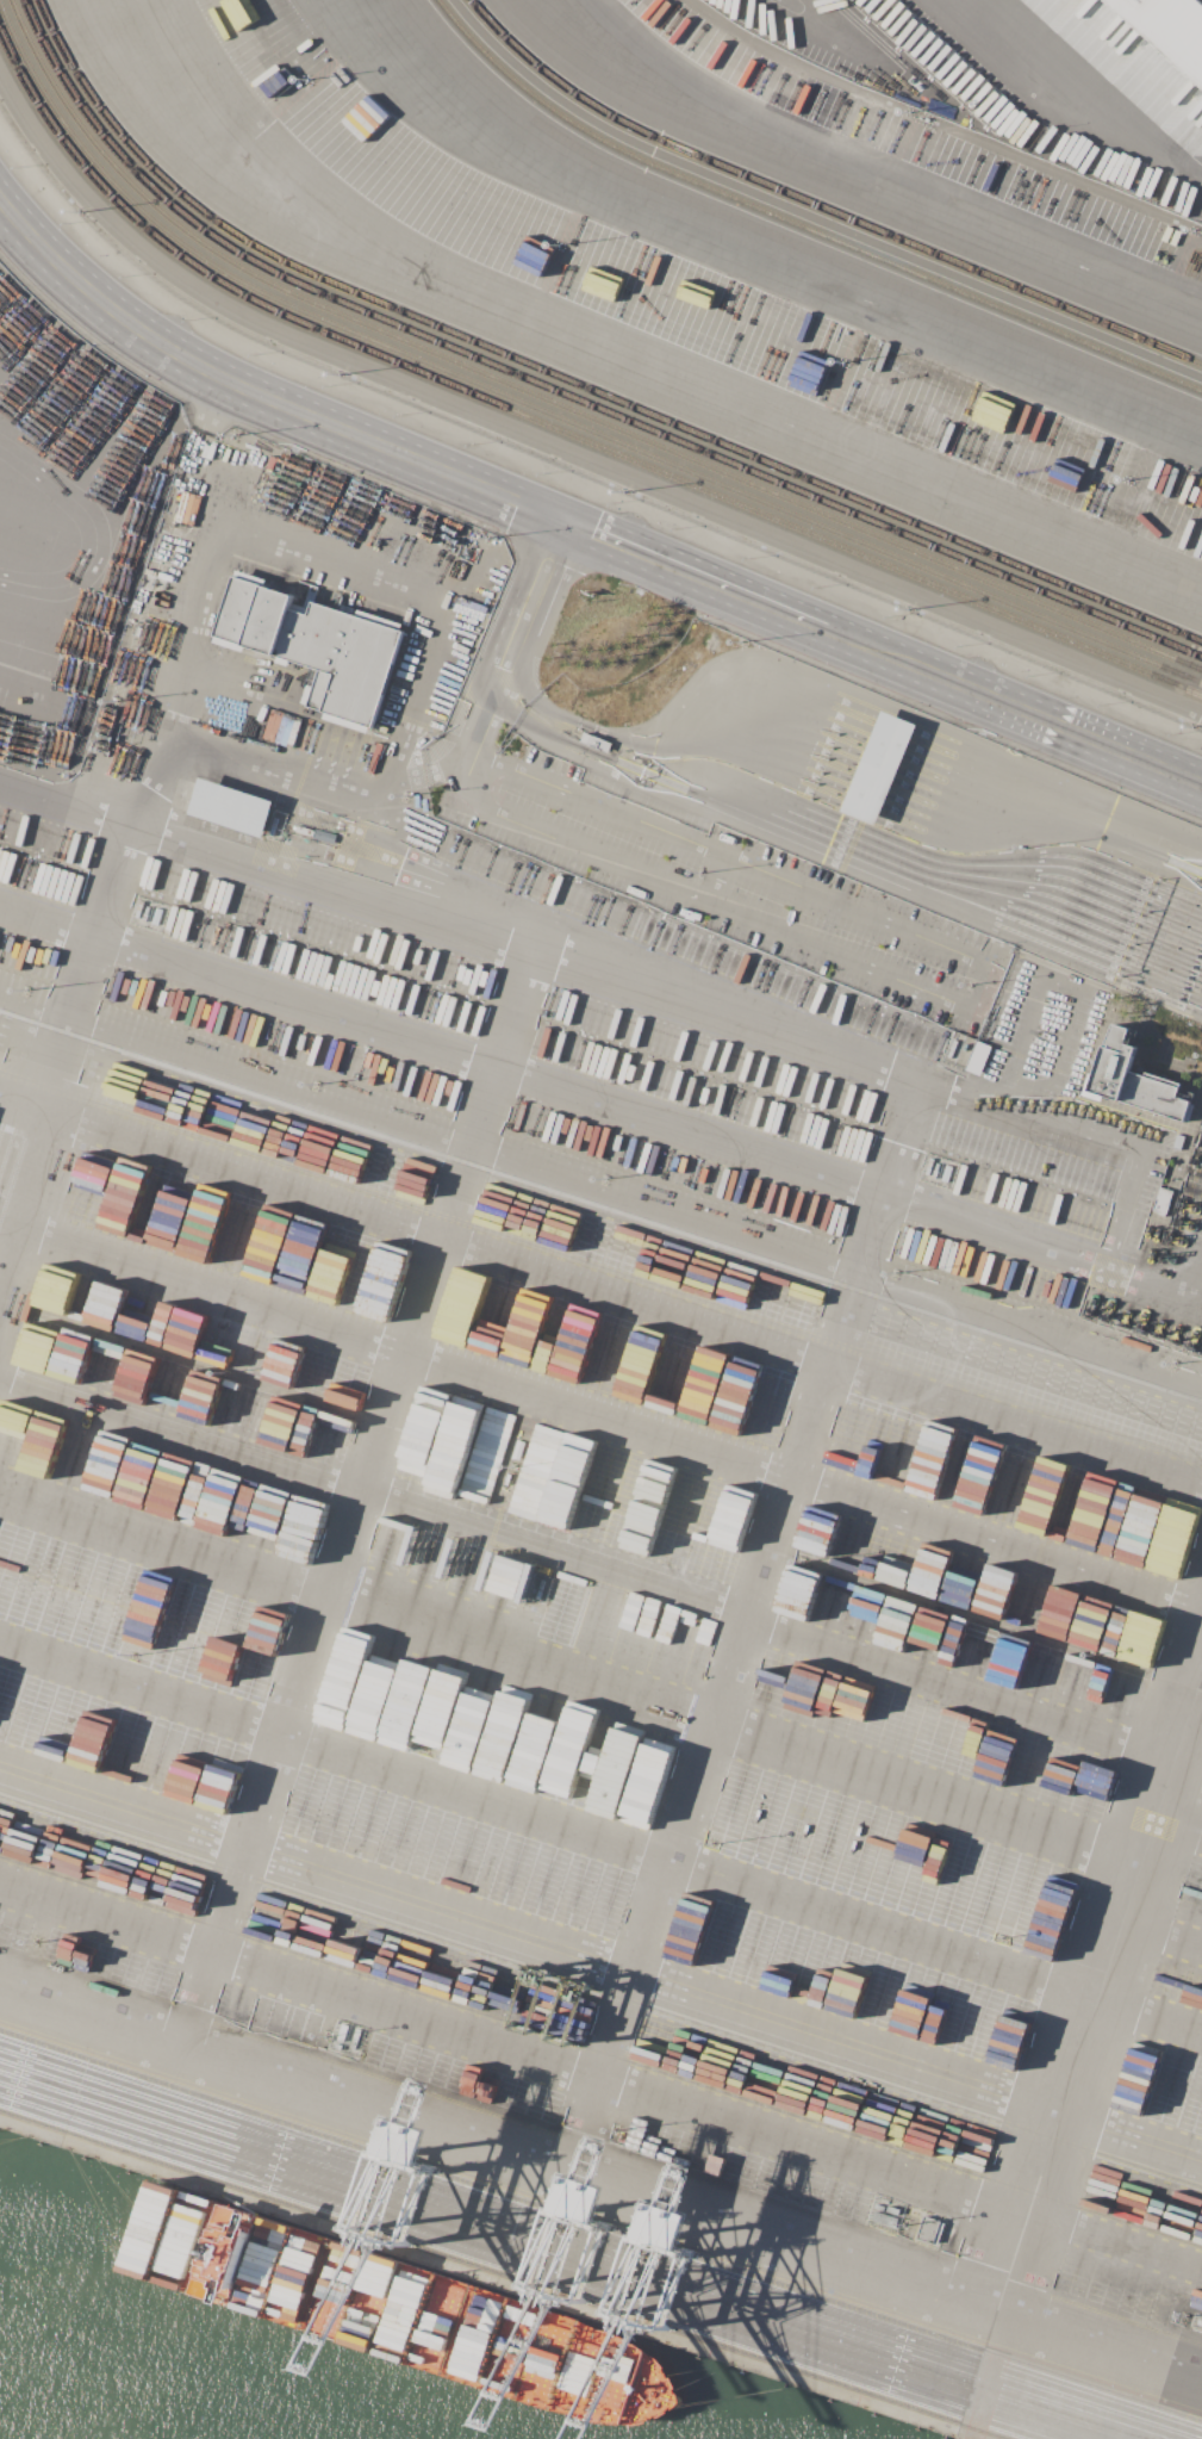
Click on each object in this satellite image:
road: (796, 24)
building: (1171, 27)
road: (1072, 95)
street lamp: (18, 167)
road: (1200, 175)
road: (866, 179)
railway: (818, 209)
street lamp: (67, 223)
railway: (802, 224)
road: (762, 252)
street lamp: (125, 275)
street lamp: (188, 319)
street lamp: (254, 354)
road: (617, 365)
railway: (573, 383)
street lamp: (328, 385)
railway: (561, 393)
road: (261, 396)
railway: (554, 402)
road: (56, 408)
railway: (546, 412)
street lamp: (399, 415)
railway: (552, 427)
street lamp: (471, 443)
street lamp: (541, 473)
street lamp: (612, 503)
street lamp: (674, 528)
street lamp: (747, 558)
road: (723, 587)
street lamp: (816, 587)
road: (540, 594)
street lamp: (888, 616)
building: (314, 645)
street lamp: (959, 645)
street lamp: (1030, 675)
road: (173, 690)
road: (854, 696)
street lamp: (1101, 705)
road: (1039, 716)
street lamp: (1171, 733)
building: (879, 769)
road: (363, 786)
building: (231, 807)
road: (832, 862)
road: (259, 869)
road: (604, 962)
road: (973, 994)
building: (977, 1057)
road: (1014, 1080)
building: (1134, 1080)
road: (600, 1105)
road: (1089, 1129)
building: (1197, 1181)
road: (600, 1302)
road: (600, 1411)
road: (179, 1427)
road: (357, 1489)
road: (739, 1627)
road: (568, 1682)
road: (1194, 1732)
road: (1178, 1832)
road: (600, 1838)
road: (1161, 1932)
road: (600, 1961)
road: (1096, 1994)
road: (600, 2077)
road: (599, 2182)
building: (880, 2207)
building: (893, 2210)
building: (885, 2218)
building: (929, 2229)

